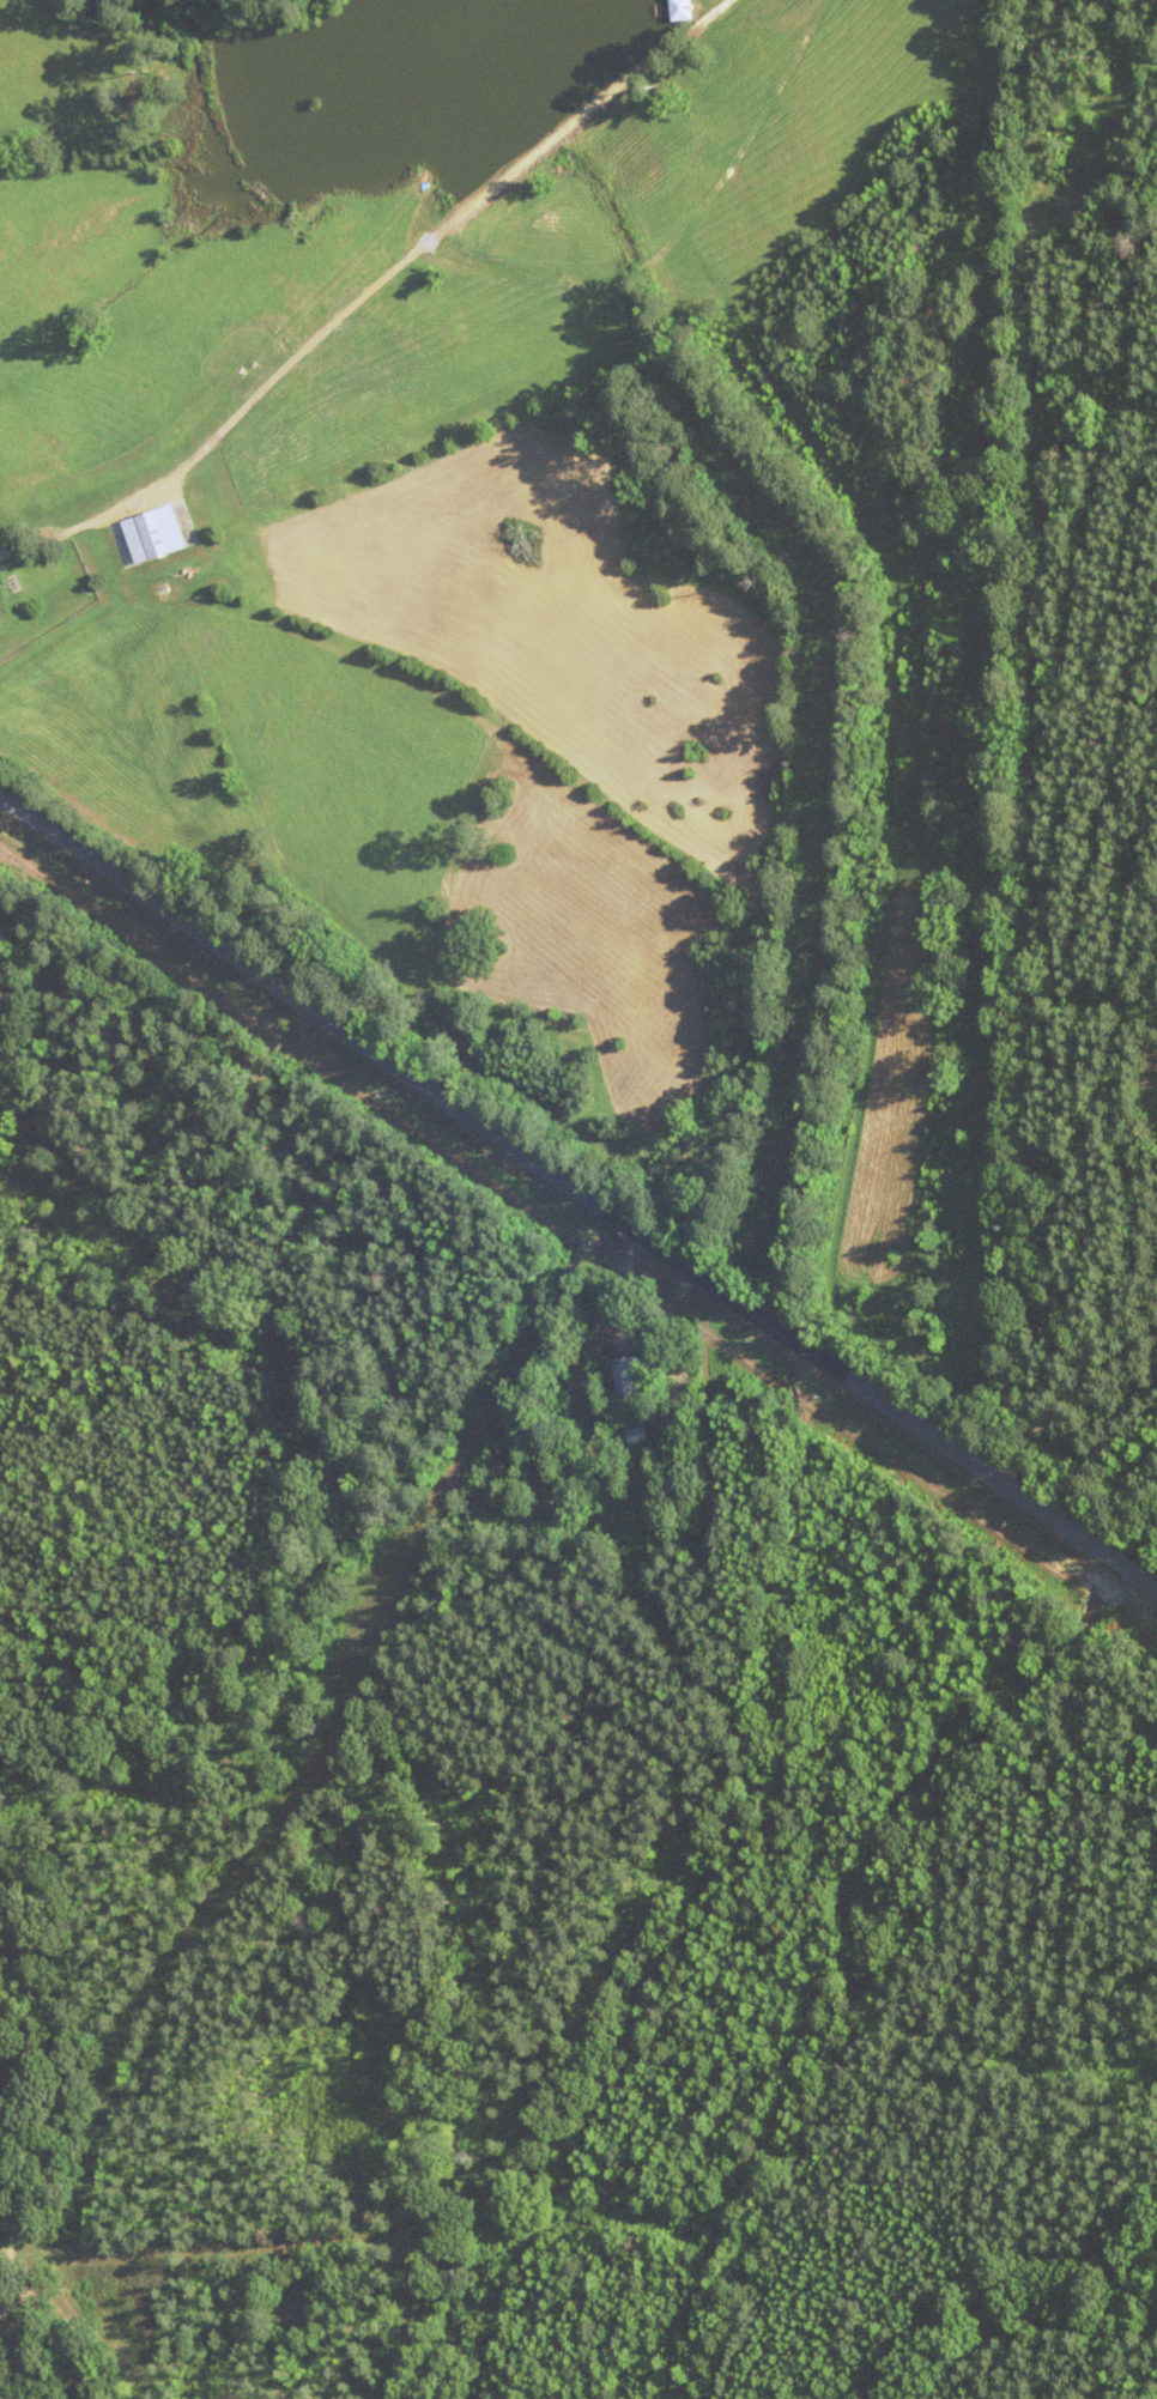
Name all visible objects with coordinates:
building: (156, 533)
road: (578, 1191)
building: (628, 1377)
road: (345, 1731)
road: (7, 2259)

